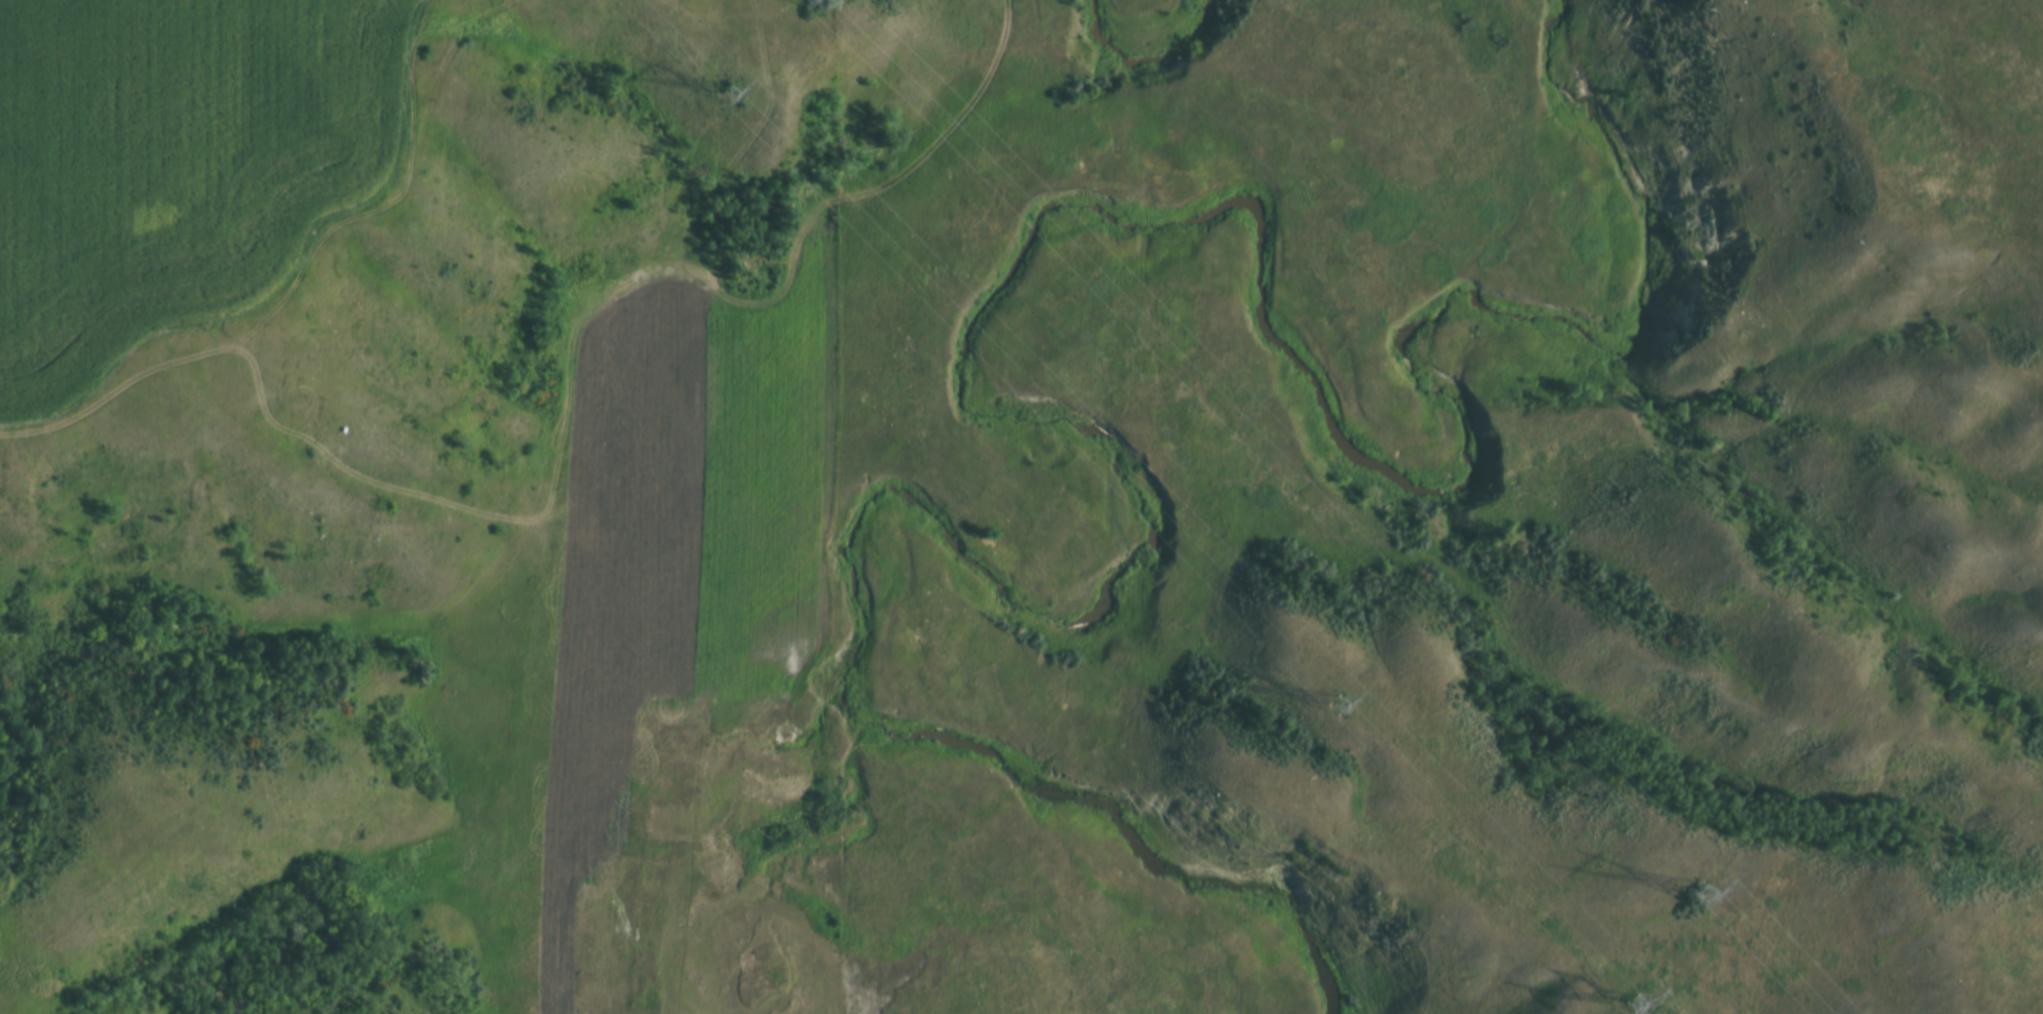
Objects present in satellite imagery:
power tower: (786, 3)
power tower: (714, 97)
road: (922, 176)
power tower: (1324, 715)
power tower: (1685, 923)
power tower: (1626, 1011)

